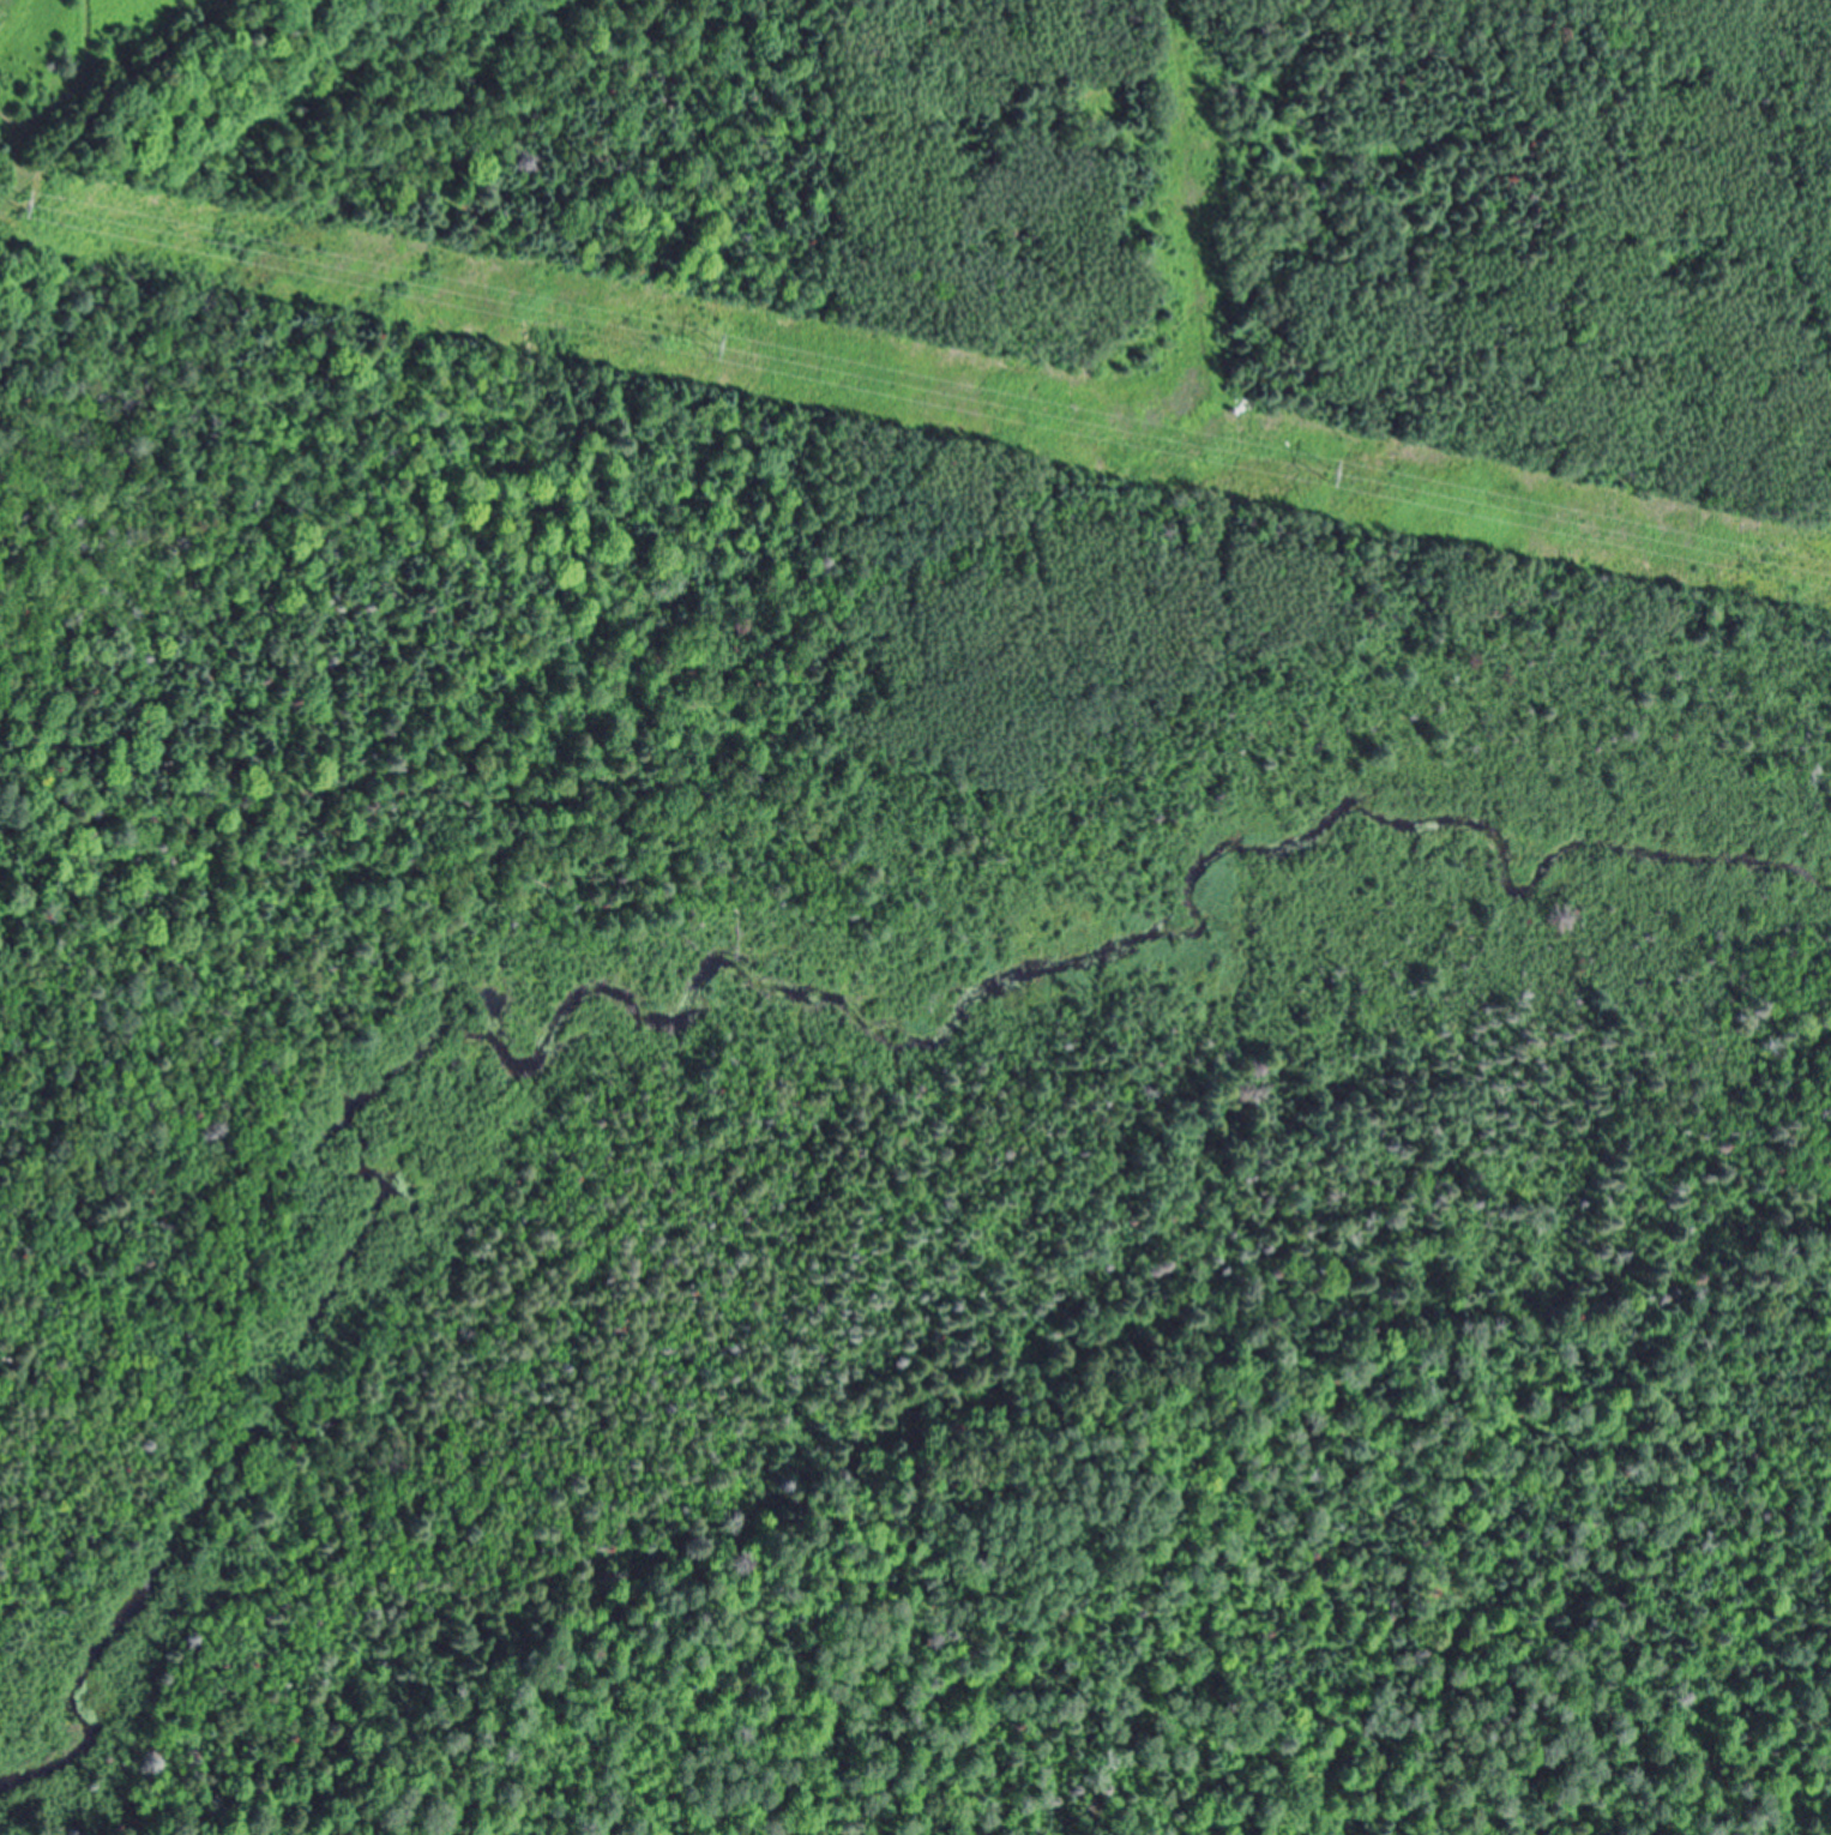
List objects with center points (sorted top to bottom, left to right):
power tower: (29, 207)
power tower: (715, 349)
power tower: (1321, 475)

